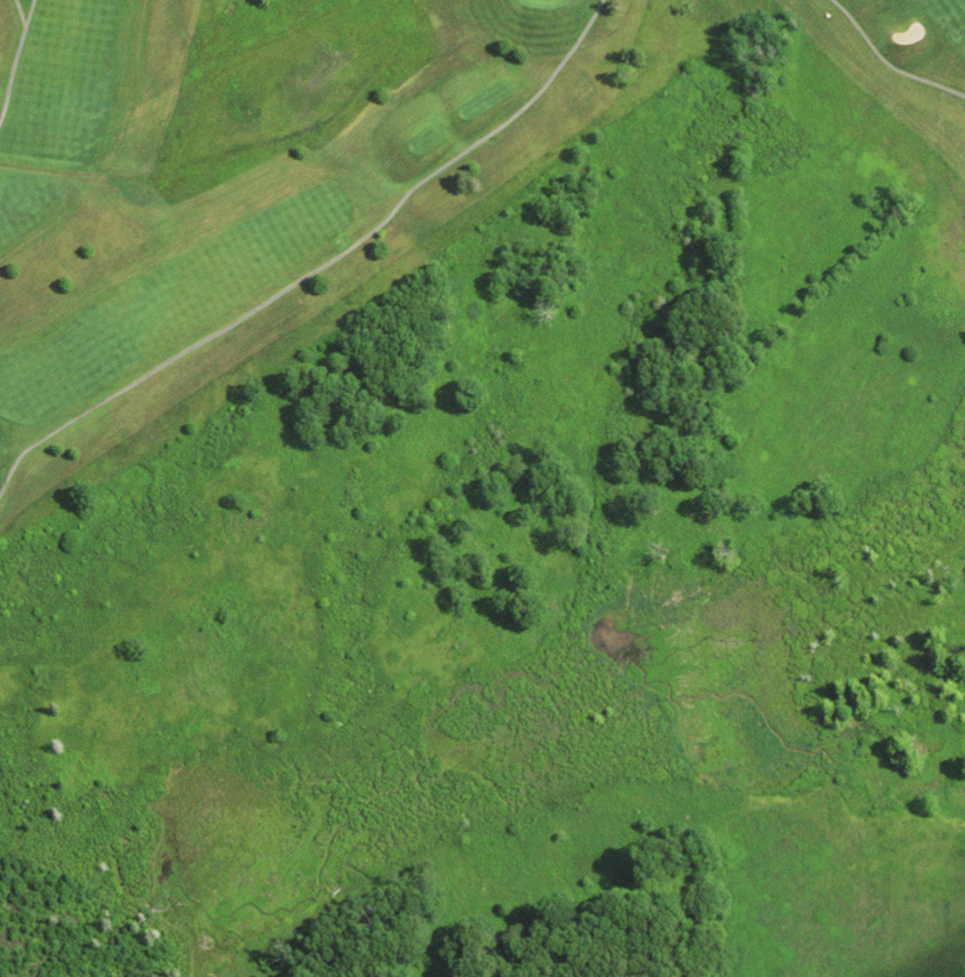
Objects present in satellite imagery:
road: (18, 12)
road: (12, 52)
park: (903, 55)
road: (889, 61)
park: (223, 191)
road: (317, 264)

